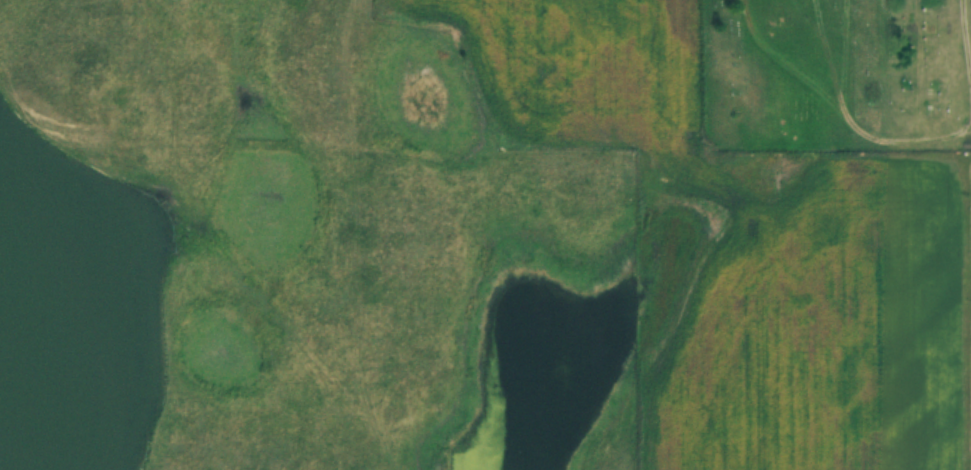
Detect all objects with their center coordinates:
road: (969, 16)
road: (844, 98)

